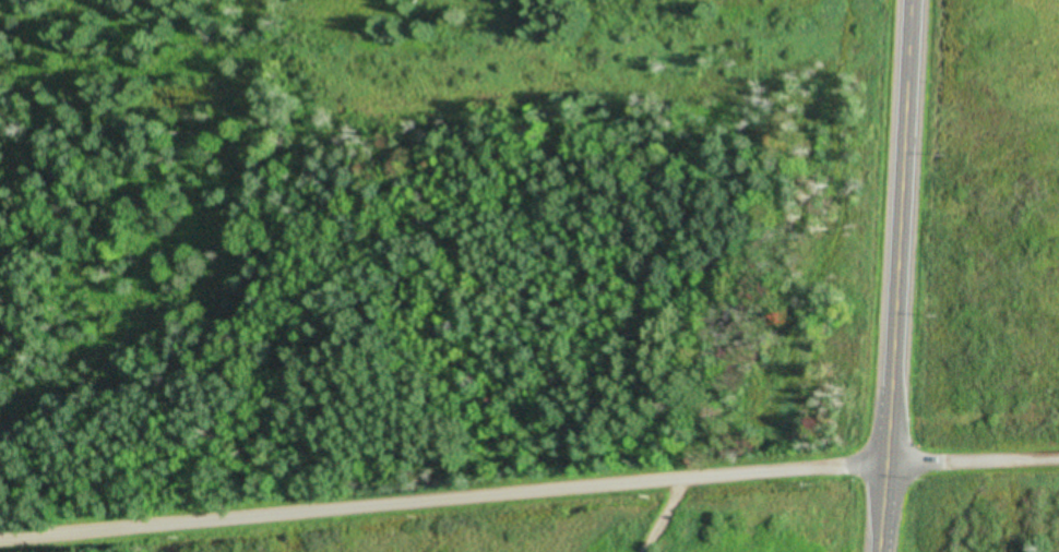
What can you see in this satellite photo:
road: (884, 276)
road: (966, 472)
road: (490, 485)

